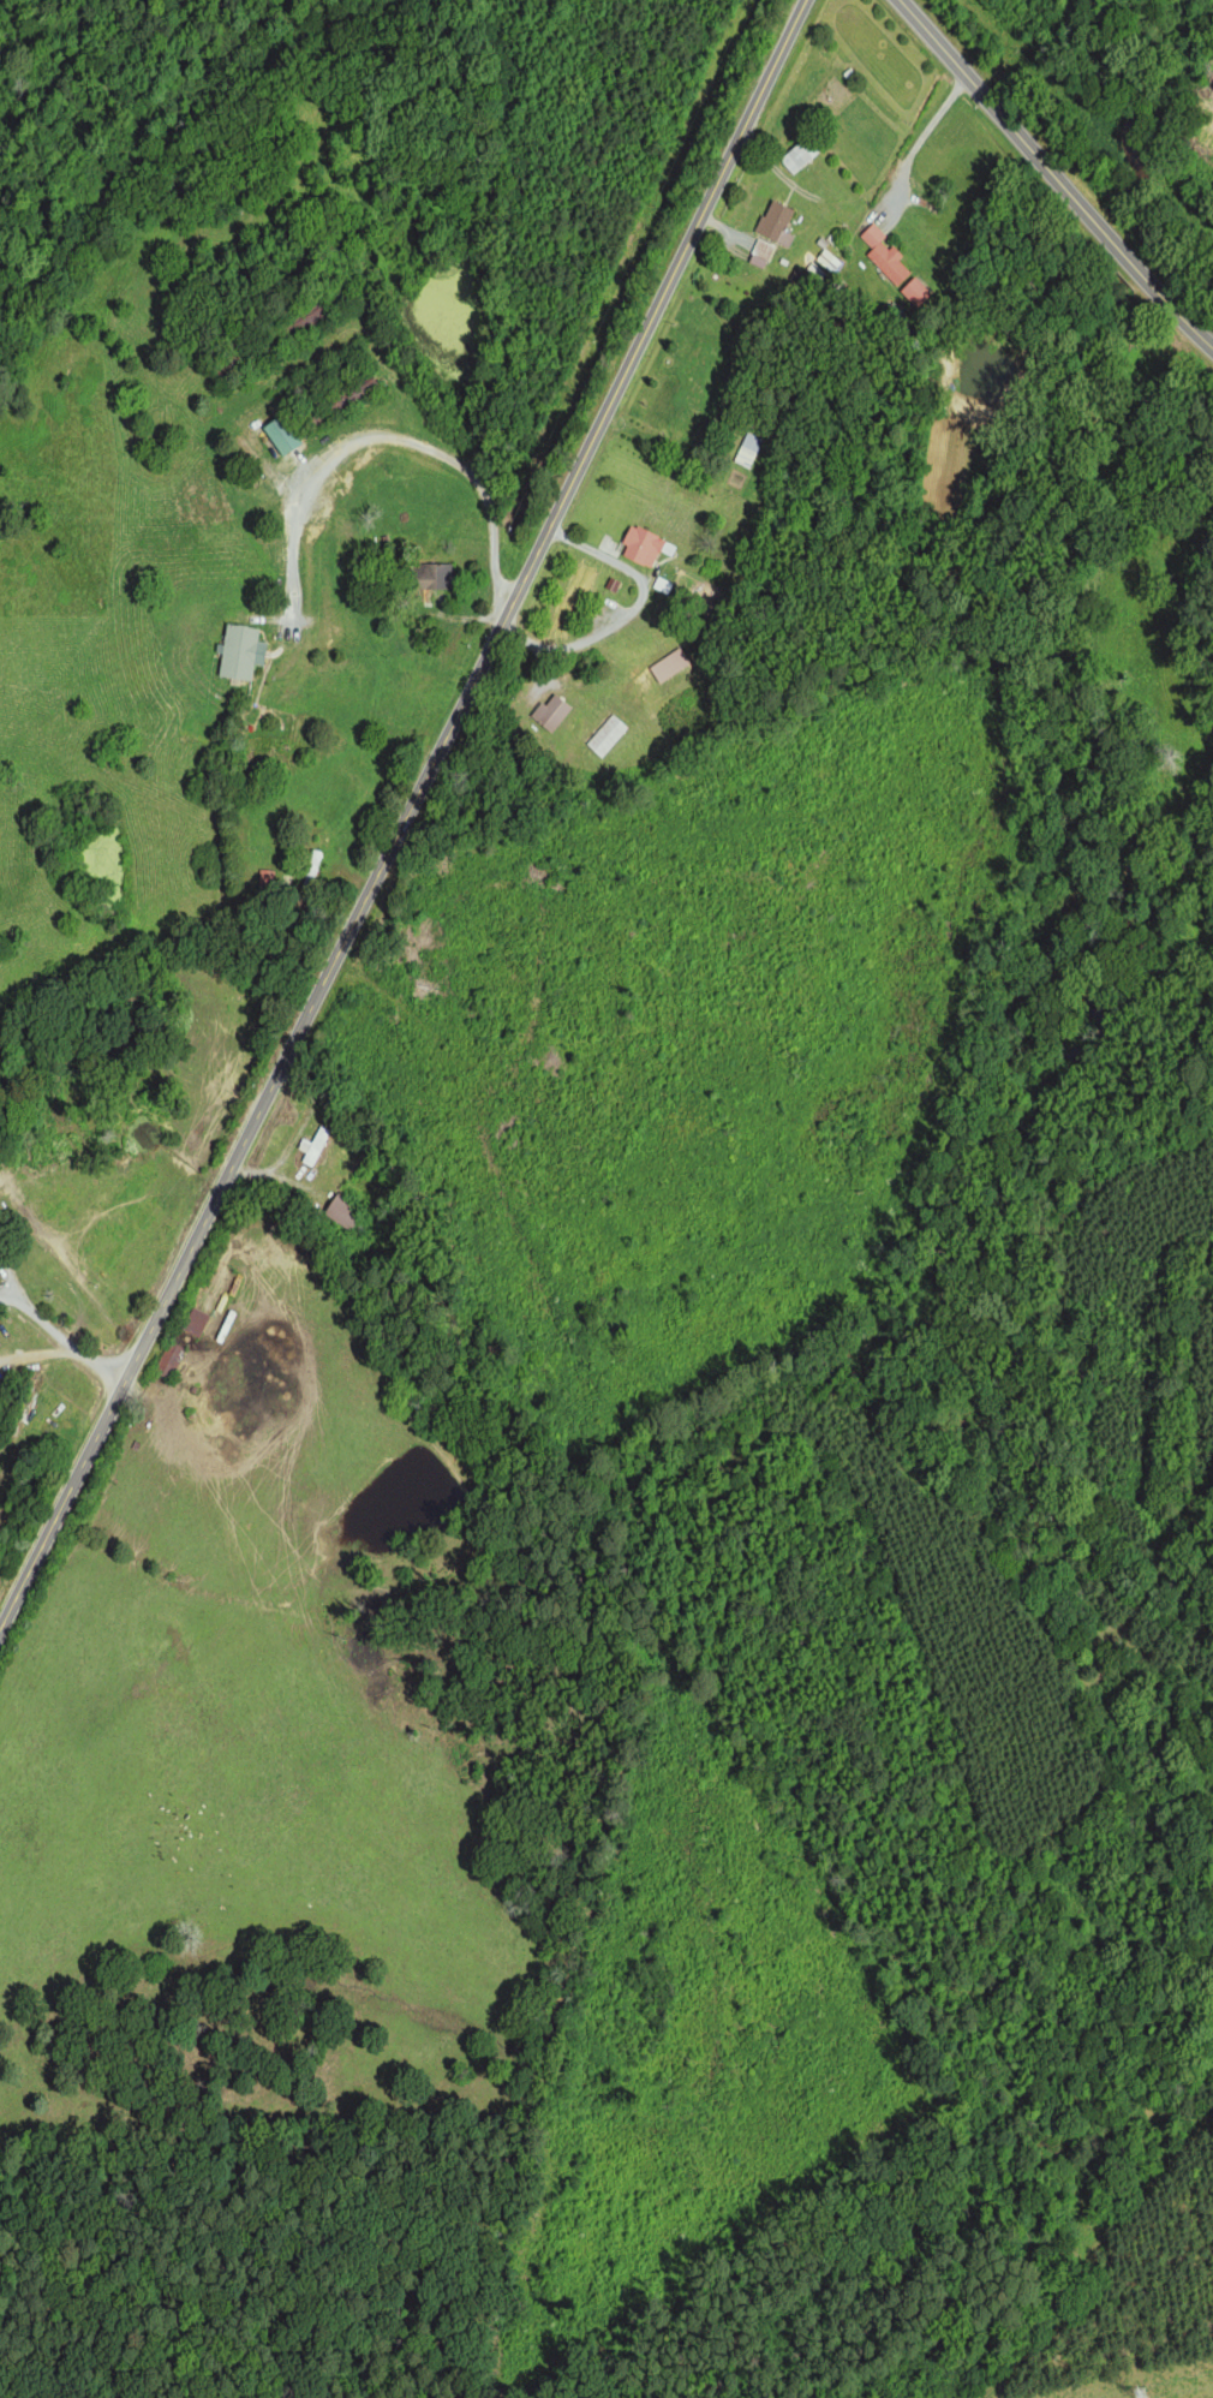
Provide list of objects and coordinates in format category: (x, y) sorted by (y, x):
building: (799, 154)
road: (1053, 180)
building: (773, 222)
building: (759, 252)
building: (827, 255)
building: (883, 255)
building: (913, 291)
building: (277, 434)
building: (747, 449)
building: (639, 545)
building: (430, 575)
building: (239, 651)
building: (667, 664)
building: (549, 712)
building: (605, 735)
road: (407, 816)
building: (312, 863)
building: (311, 1146)
building: (340, 1213)
building: (193, 1322)
building: (167, 1359)
power tower: (1141, 2396)

